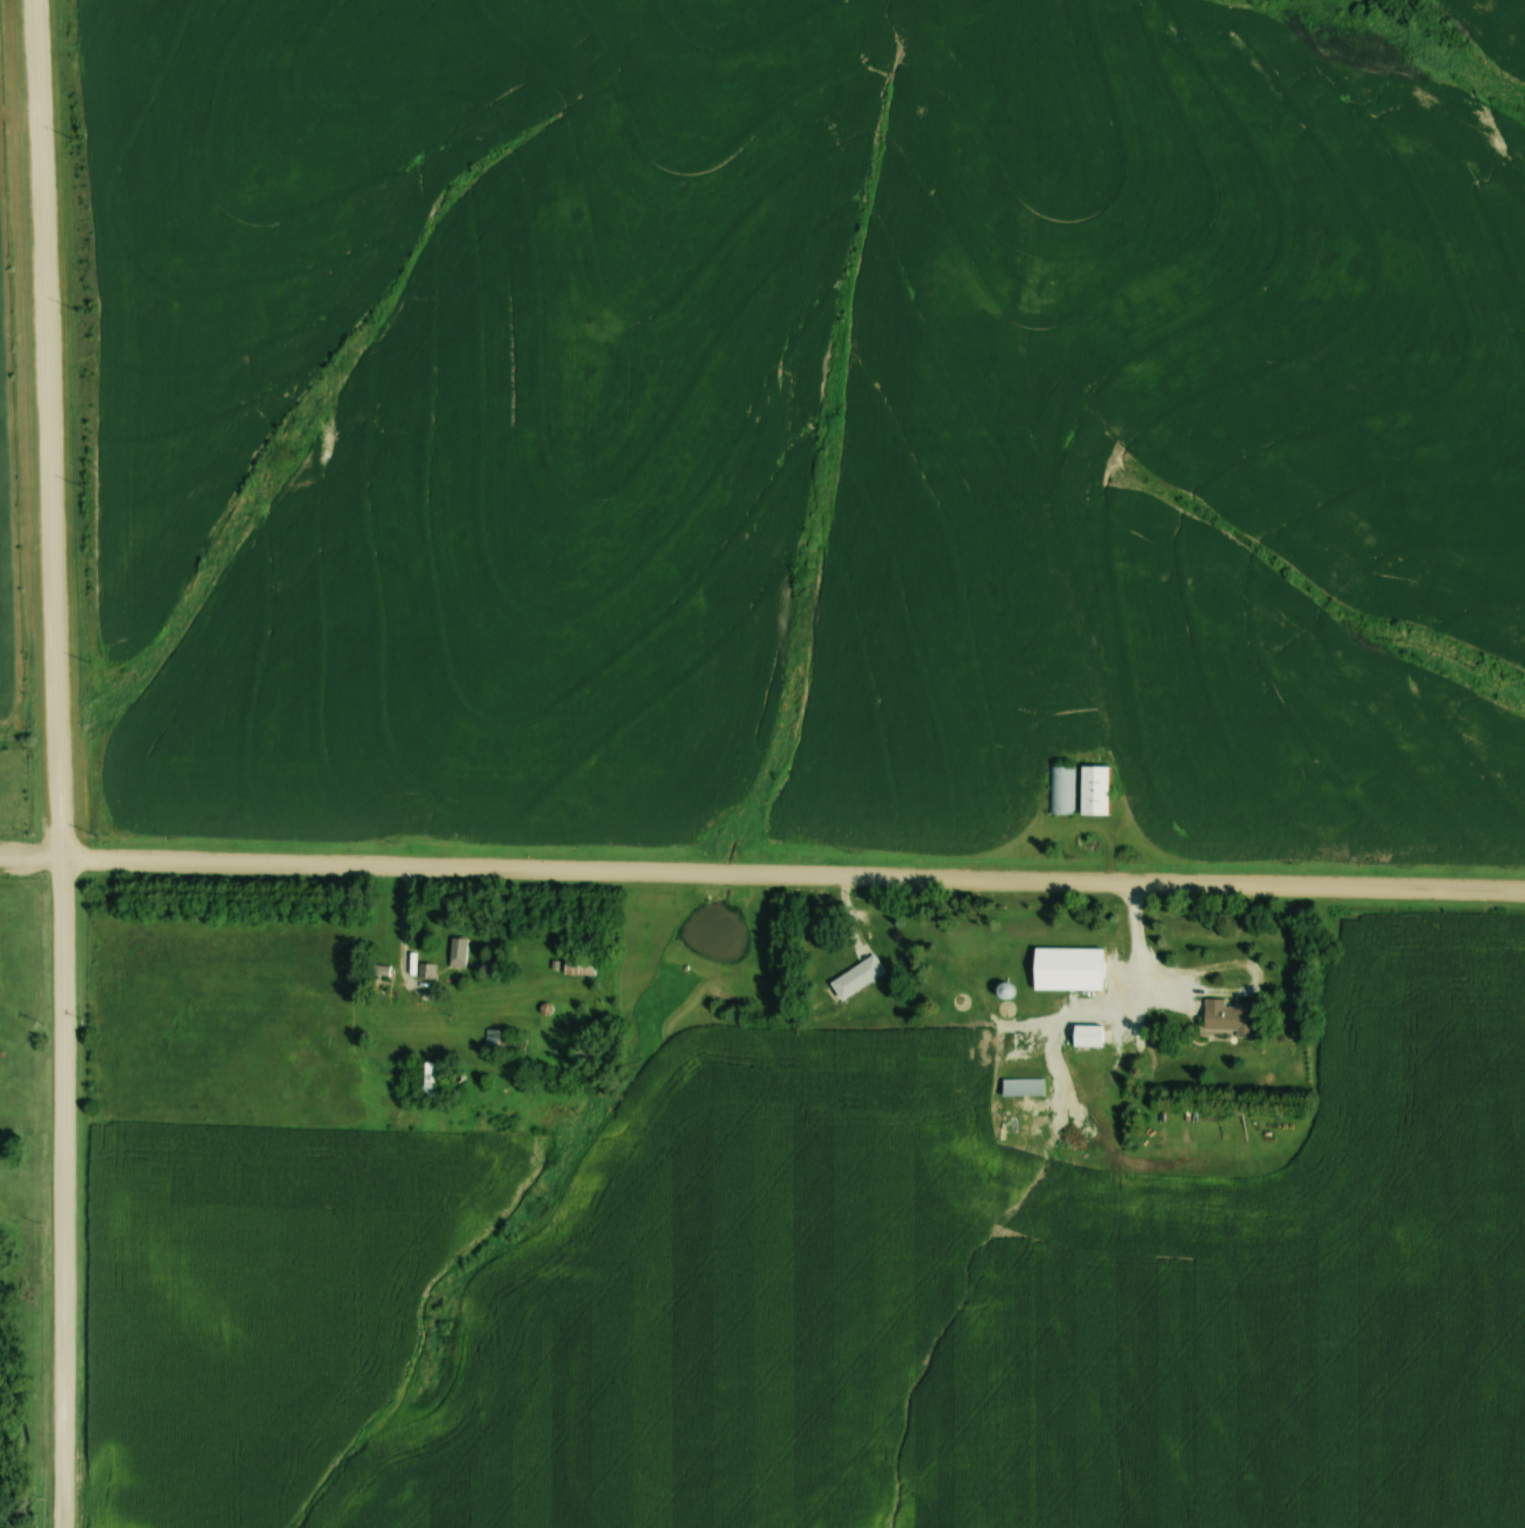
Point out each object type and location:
road: (61, 763)
building: (1061, 790)
building: (1094, 790)
road: (762, 874)
building: (457, 952)
building: (578, 964)
building: (1067, 969)
building: (426, 970)
building: (855, 978)
road: (1211, 992)
building: (1227, 1016)
building: (1086, 1035)
building: (496, 1040)
building: (431, 1079)
building: (1021, 1087)

